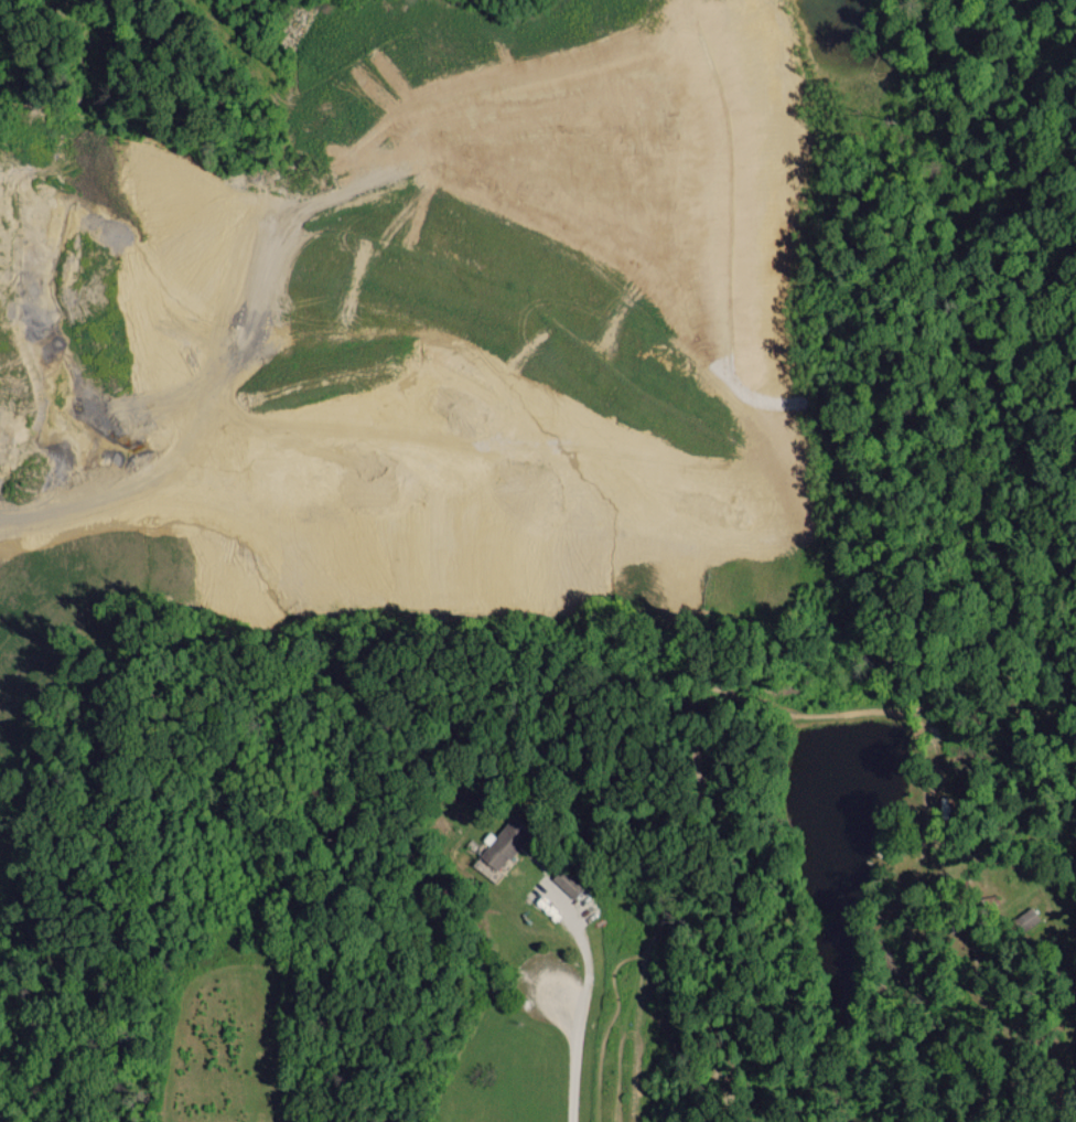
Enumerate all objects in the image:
building: (503, 844)
building: (567, 881)
building: (1025, 918)
road: (582, 1002)

